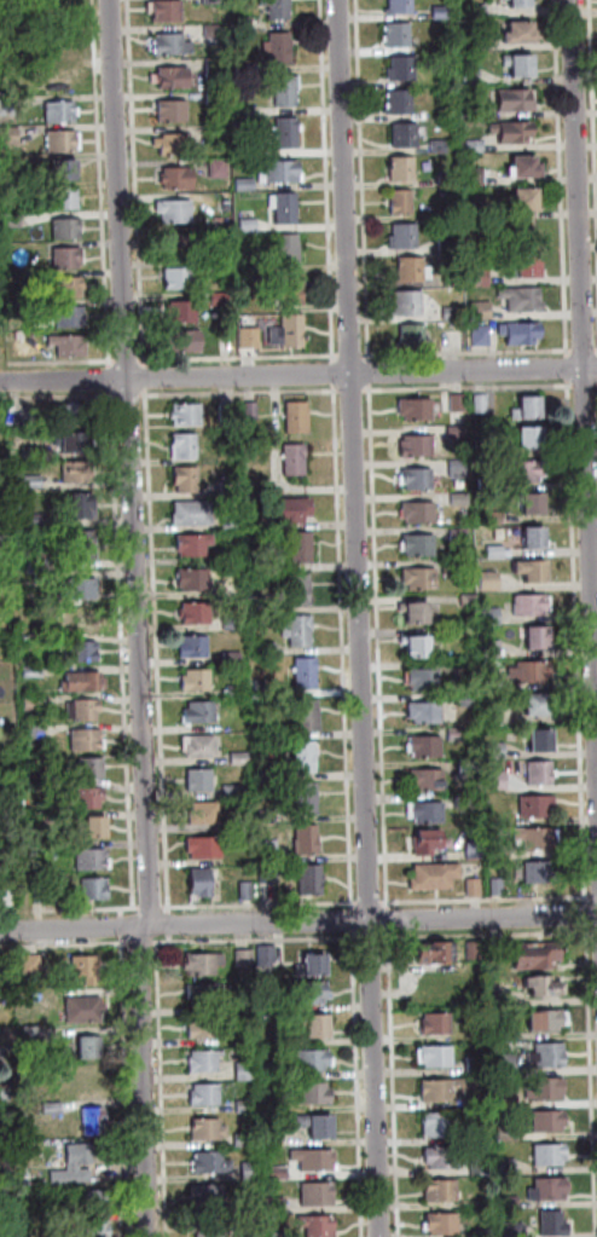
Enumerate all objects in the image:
building: (214, 2)
building: (521, 5)
building: (401, 7)
building: (280, 10)
building: (479, 11)
building: (168, 12)
building: (444, 13)
building: (244, 25)
building: (216, 31)
building: (521, 35)
building: (399, 36)
building: (176, 46)
building: (280, 50)
building: (57, 54)
building: (522, 67)
building: (218, 69)
building: (245, 69)
building: (404, 70)
building: (473, 77)
building: (175, 80)
building: (60, 81)
building: (289, 92)
building: (219, 99)
building: (517, 103)
building: (401, 104)
building: (10, 106)
building: (63, 114)
building: (173, 114)
building: (514, 134)
building: (218, 135)
building: (290, 135)
building: (11, 137)
building: (407, 137)
building: (64, 143)
building: (175, 146)
building: (441, 148)
building: (476, 148)
building: (12, 163)
building: (220, 169)
building: (405, 170)
building: (527, 170)
building: (66, 173)
building: (284, 173)
building: (477, 177)
building: (450, 178)
building: (178, 180)
building: (248, 185)
building: (69, 200)
building: (527, 202)
building: (404, 203)
building: (289, 210)
building: (479, 212)
building: (178, 213)
building: (12, 220)
building: (250, 226)
building: (69, 230)
building: (222, 231)
building: (405, 238)
building: (180, 247)
building: (450, 247)
building: (291, 252)
building: (69, 259)
building: (222, 265)
building: (529, 270)
building: (413, 271)
building: (482, 277)
building: (182, 279)
building: (454, 281)
building: (73, 289)
building: (295, 291)
building: (222, 300)
building: (524, 301)
road: (586, 302)
building: (410, 305)
building: (18, 308)
building: (483, 311)
building: (182, 313)
building: (454, 314)
building: (73, 318)
building: (290, 334)
building: (523, 335)
building: (22, 336)
building: (482, 337)
building: (250, 340)
building: (416, 340)
building: (186, 343)
building: (70, 347)
road: (297, 356)
road: (297, 375)
building: (456, 405)
building: (482, 405)
building: (253, 411)
building: (417, 411)
building: (529, 411)
building: (76, 415)
building: (230, 415)
building: (189, 416)
building: (300, 420)
building: (459, 433)
building: (532, 440)
building: (77, 444)
building: (186, 447)
building: (418, 447)
building: (488, 449)
building: (33, 453)
building: (297, 462)
building: (459, 468)
building: (0, 469)
building: (80, 473)
building: (528, 473)
building: (418, 480)
building: (35, 481)
building: (189, 481)
building: (488, 484)
building: (232, 490)
building: (259, 490)
building: (462, 499)
building: (83, 507)
building: (535, 507)
building: (295, 511)
building: (195, 514)
building: (421, 514)
building: (497, 518)
building: (39, 520)
building: (232, 524)
building: (1, 528)
building: (460, 536)
building: (537, 541)
building: (87, 547)
building: (196, 547)
building: (421, 547)
building: (303, 549)
building: (498, 553)
building: (1, 554)
building: (236, 559)
building: (44, 560)
building: (277, 565)
building: (456, 568)
building: (534, 572)
building: (47, 578)
building: (196, 580)
building: (423, 580)
building: (492, 582)
building: (85, 589)
building: (301, 590)
building: (470, 601)
building: (534, 606)
building: (265, 607)
building: (197, 615)
building: (417, 615)
building: (493, 617)
road: (363, 618)
road: (143, 619)
building: (89, 623)
building: (234, 623)
building: (301, 632)
building: (540, 641)
building: (196, 648)
building: (418, 648)
building: (269, 649)
building: (493, 649)
building: (86, 653)
building: (234, 658)
building: (35, 671)
building: (533, 672)
building: (307, 675)
building: (425, 681)
building: (199, 682)
building: (86, 683)
building: (493, 683)
building: (266, 689)
building: (238, 692)
building: (35, 703)
building: (538, 707)
building: (86, 710)
building: (427, 713)
building: (202, 715)
building: (309, 717)
building: (495, 718)
building: (37, 733)
building: (459, 734)
building: (89, 741)
building: (540, 742)
building: (201, 747)
building: (427, 748)
building: (498, 751)
building: (307, 758)
building: (243, 759)
building: (94, 769)
building: (266, 771)
building: (471, 771)
building: (543, 775)
building: (201, 781)
building: (498, 781)
building: (429, 782)
building: (234, 792)
building: (92, 798)
building: (308, 802)
building: (469, 803)
building: (538, 807)
building: (428, 814)
building: (205, 815)
building: (268, 817)
building: (99, 831)
building: (539, 840)
building: (307, 843)
building: (430, 845)
building: (205, 849)
building: (476, 852)
building: (502, 854)
building: (271, 855)
building: (94, 860)
building: (539, 873)
building: (269, 874)
building: (436, 878)
building: (313, 883)
building: (203, 885)
building: (475, 889)
building: (499, 889)
building: (97, 891)
building: (248, 891)
building: (42, 896)
building: (11, 897)
road: (297, 923)
building: (477, 952)
building: (268, 955)
building: (439, 956)
building: (537, 958)
building: (247, 959)
building: (204, 965)
building: (34, 966)
building: (86, 970)
building: (313, 970)
building: (545, 990)
building: (209, 995)
building: (312, 995)
building: (247, 1002)
building: (271, 1005)
building: (87, 1011)
building: (550, 1023)
building: (439, 1027)
building: (205, 1029)
building: (315, 1029)
building: (506, 1034)
building: (35, 1035)
building: (92, 1051)
building: (2, 1057)
building: (550, 1057)
building: (437, 1058)
building: (315, 1062)
building: (207, 1063)
building: (477, 1065)
building: (509, 1065)
building: (276, 1071)
building: (248, 1073)
building: (442, 1091)
building: (551, 1091)
building: (6, 1092)
building: (207, 1097)
building: (317, 1097)
building: (509, 1099)
building: (481, 1103)
building: (247, 1106)
building: (54, 1109)
building: (97, 1123)
building: (549, 1123)
building: (441, 1126)
building: (319, 1129)
building: (6, 1132)
building: (210, 1132)
building: (509, 1132)
building: (242, 1141)
building: (551, 1156)
building: (442, 1160)
building: (315, 1162)
building: (211, 1164)
building: (77, 1166)
building: (482, 1167)
building: (509, 1167)
building: (5, 1172)
building: (254, 1172)
building: (280, 1173)
building: (551, 1192)
building: (50, 1193)
building: (444, 1193)
building: (319, 1196)
building: (210, 1197)
building: (514, 1202)
building: (95, 1203)
building: (254, 1207)
building: (277, 1207)
building: (444, 1225)
building: (555, 1225)
building: (320, 1226)
building: (100, 1230)
building: (210, 1230)
building: (516, 1230)
building: (255, 1232)
building: (485, 1233)
building: (278, 1235)

